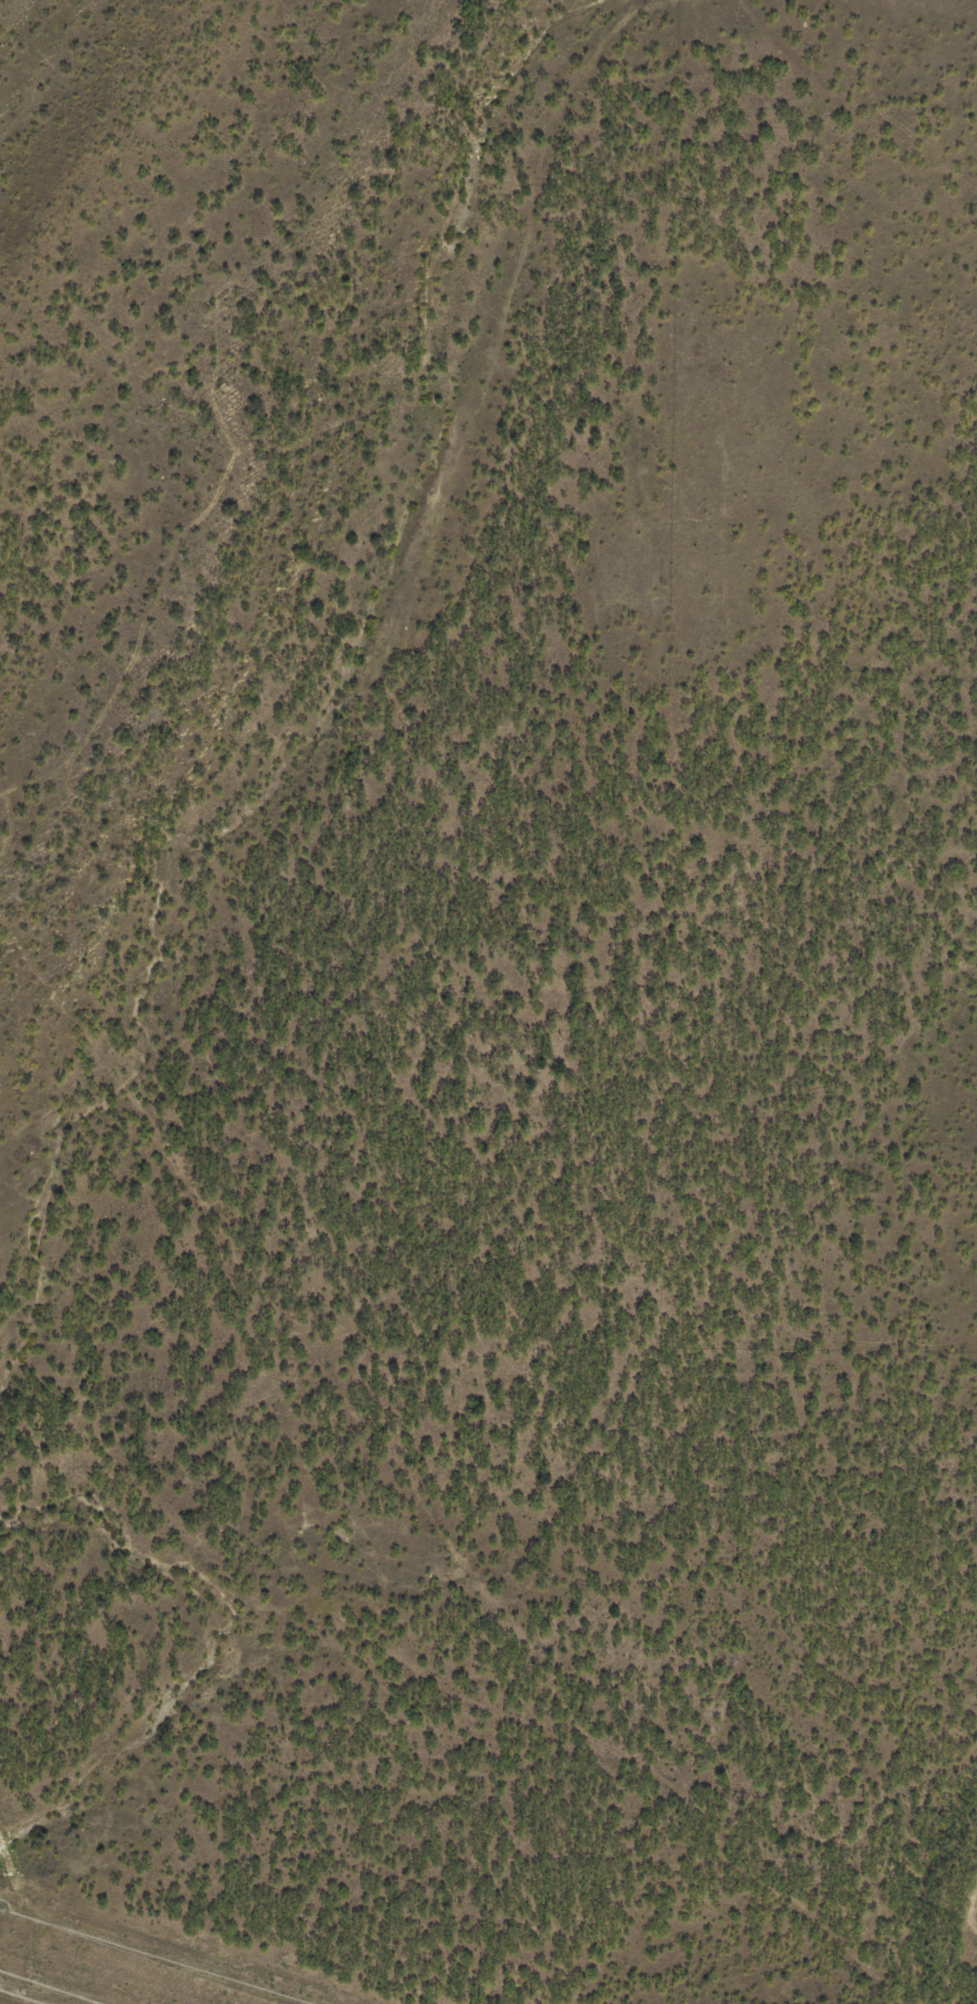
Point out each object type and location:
power tower: (4, 1910)

